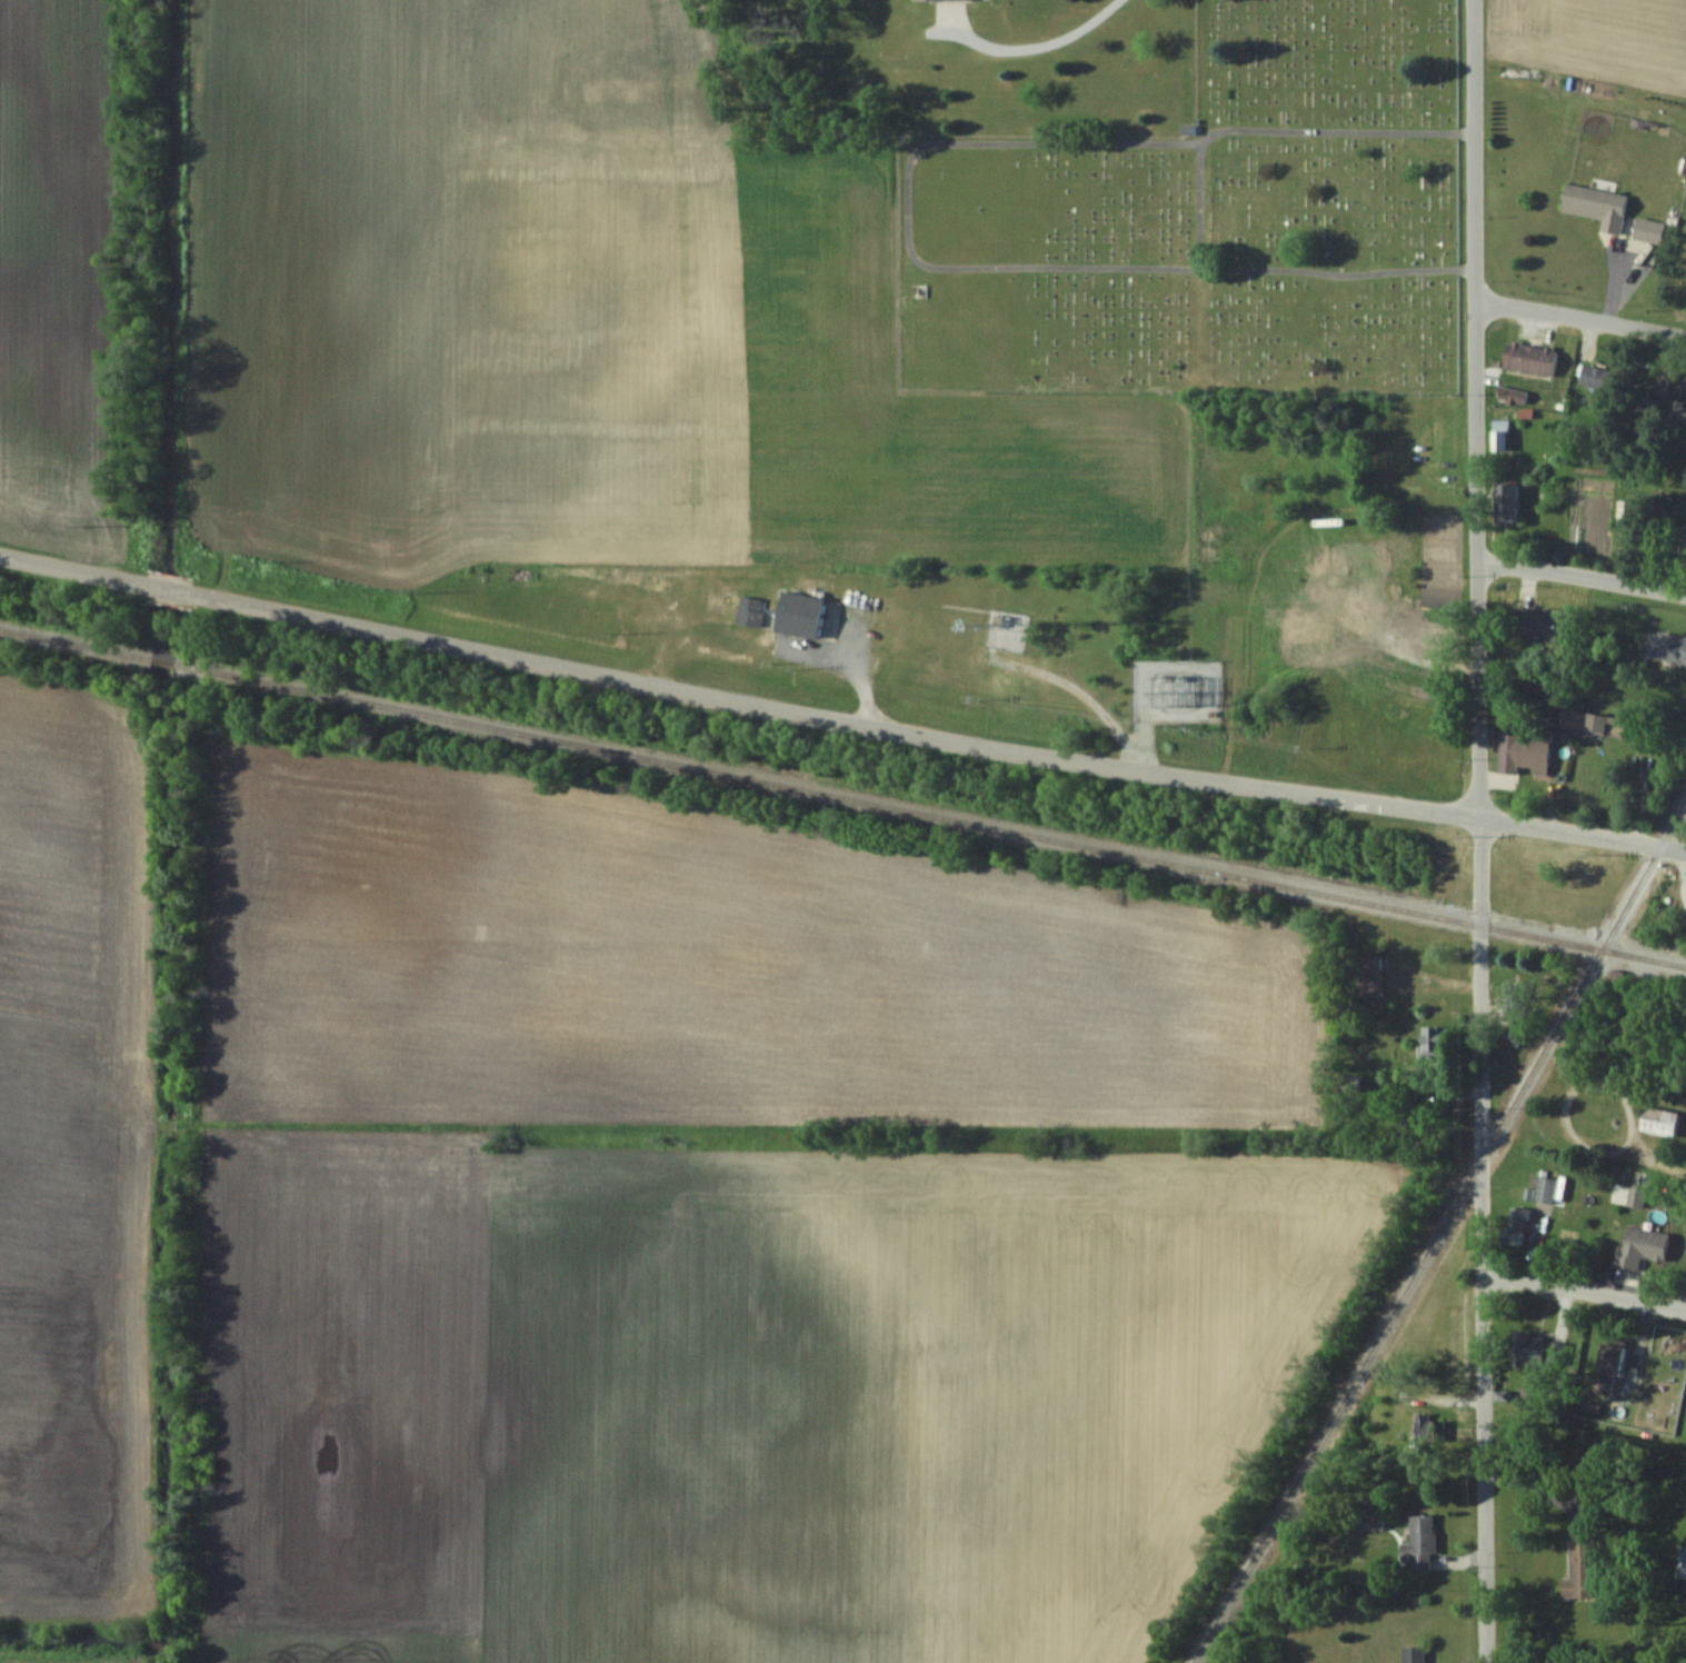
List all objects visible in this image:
road: (1027, 47)
building: (1595, 206)
park: (1199, 223)
building: (1647, 230)
road: (1580, 318)
building: (1527, 358)
building: (1593, 377)
building: (1646, 410)
building: (1503, 502)
building: (1626, 514)
building: (1683, 540)
building: (1327, 560)
road: (1583, 577)
building: (797, 615)
building: (1543, 624)
building: (1426, 637)
building: (1670, 647)
road: (851, 664)
road: (738, 699)
building: (1520, 751)
railway: (842, 794)
road: (1480, 830)
road: (1583, 835)
building: (1366, 974)
building: (1431, 1038)
building: (1658, 1121)
road: (1673, 1165)
building: (1544, 1189)
building: (1635, 1193)
building: (1516, 1225)
railway: (1441, 1232)
building: (1639, 1246)
road: (1583, 1288)
building: (1526, 1348)
building: (1608, 1356)
building: (1600, 1384)
building: (1369, 1511)
building: (1418, 1542)
building: (1680, 1562)
building: (1580, 1565)

